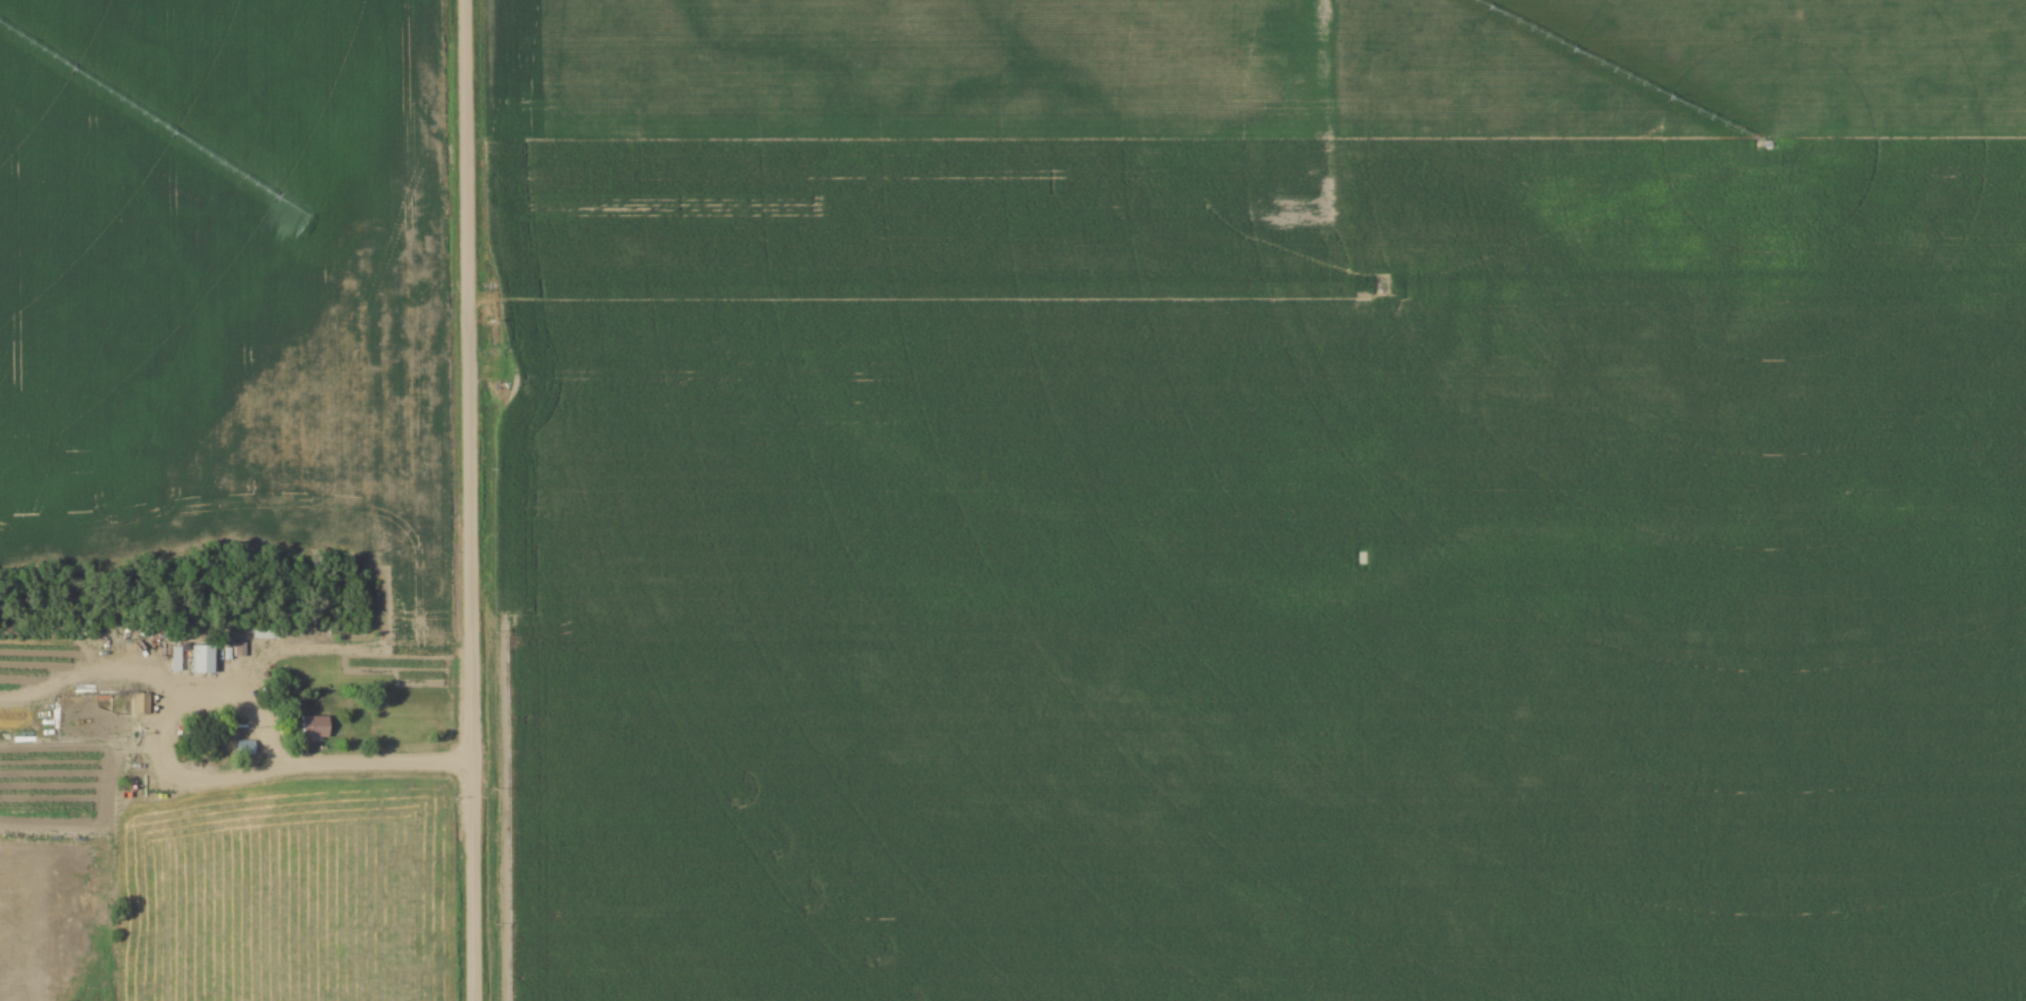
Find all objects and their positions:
road: (463, 500)
building: (265, 632)
building: (203, 657)
building: (140, 702)
building: (316, 726)
building: (246, 747)
road: (354, 761)

